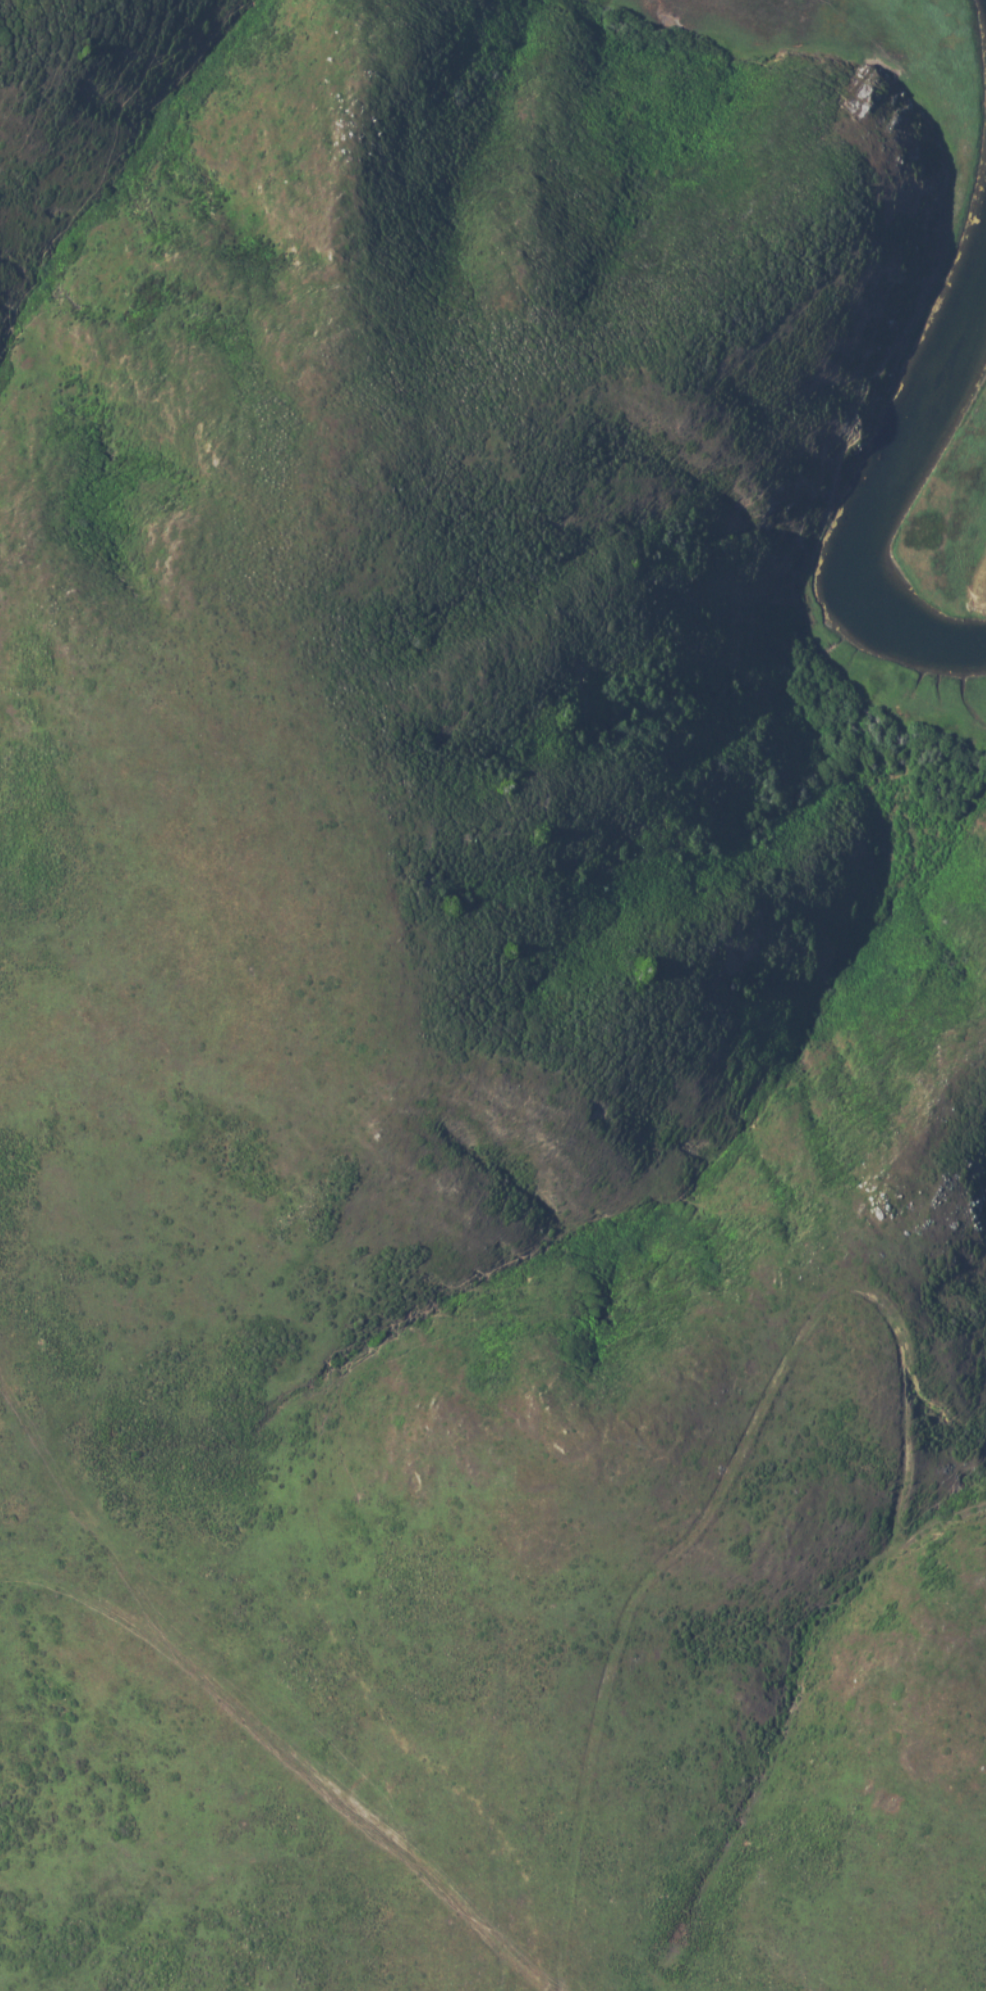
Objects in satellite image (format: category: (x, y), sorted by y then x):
road: (287, 1751)
road: (502, 1973)

